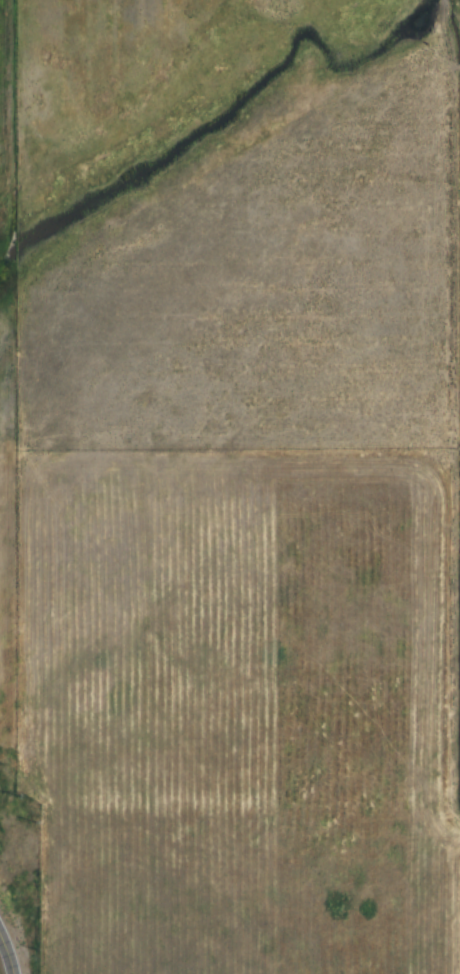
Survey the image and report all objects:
crop: (7, 91)
crop: (276, 293)
crop: (249, 707)
road: (0, 820)
road: (8, 953)

